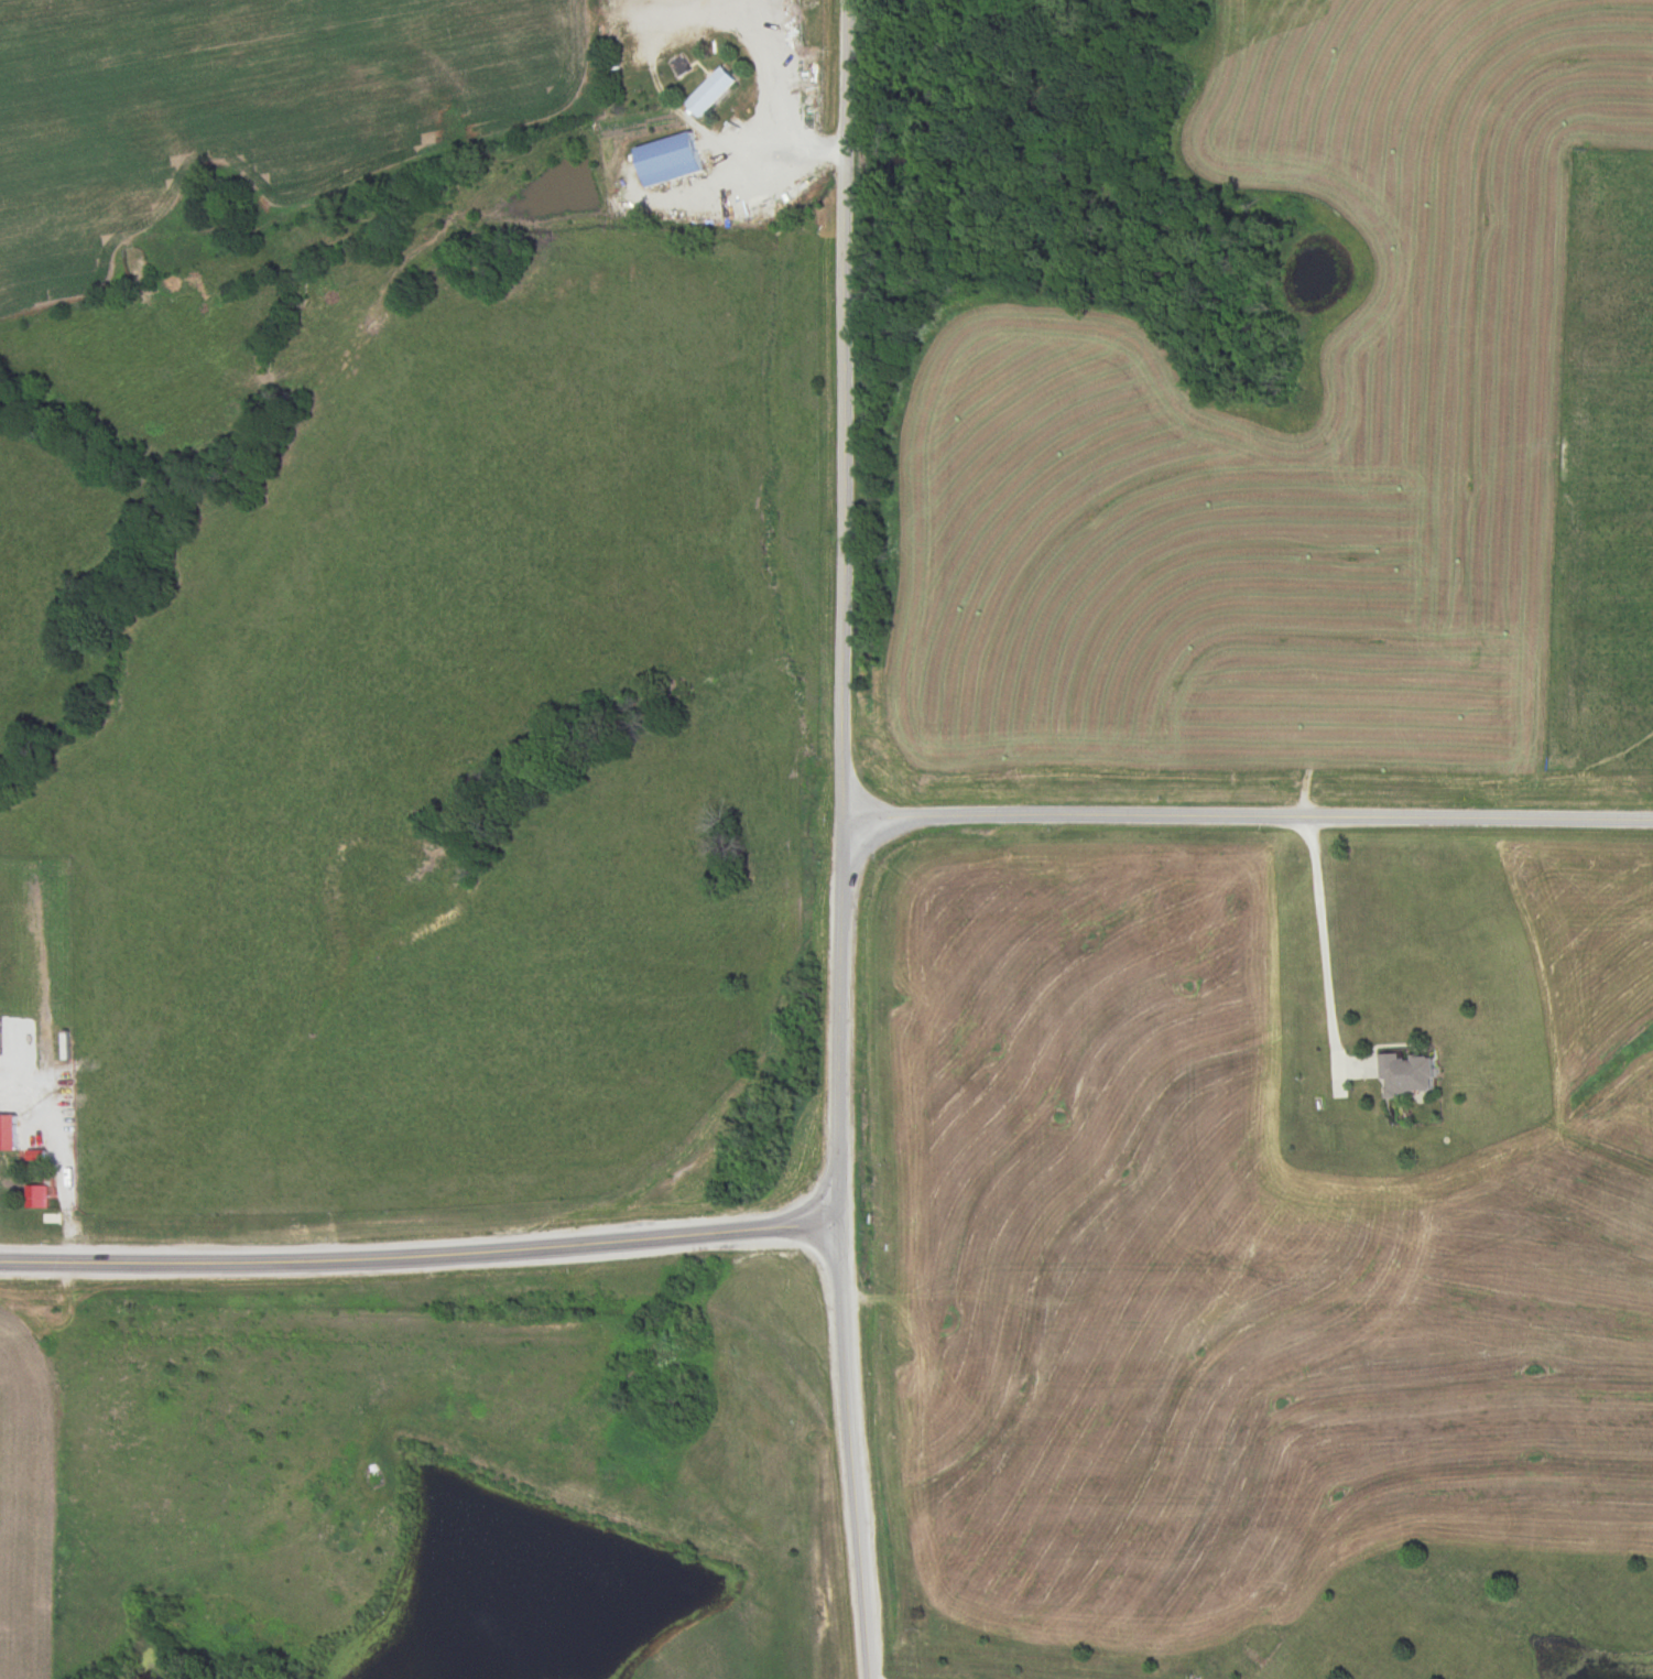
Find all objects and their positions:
road: (780, 91)
building: (709, 94)
building: (674, 151)
road: (848, 410)
road: (1248, 819)
road: (842, 930)
road: (1326, 946)
building: (1409, 1075)
road: (62, 1157)
building: (37, 1196)
road: (725, 1232)
road: (305, 1264)
road: (844, 1358)

